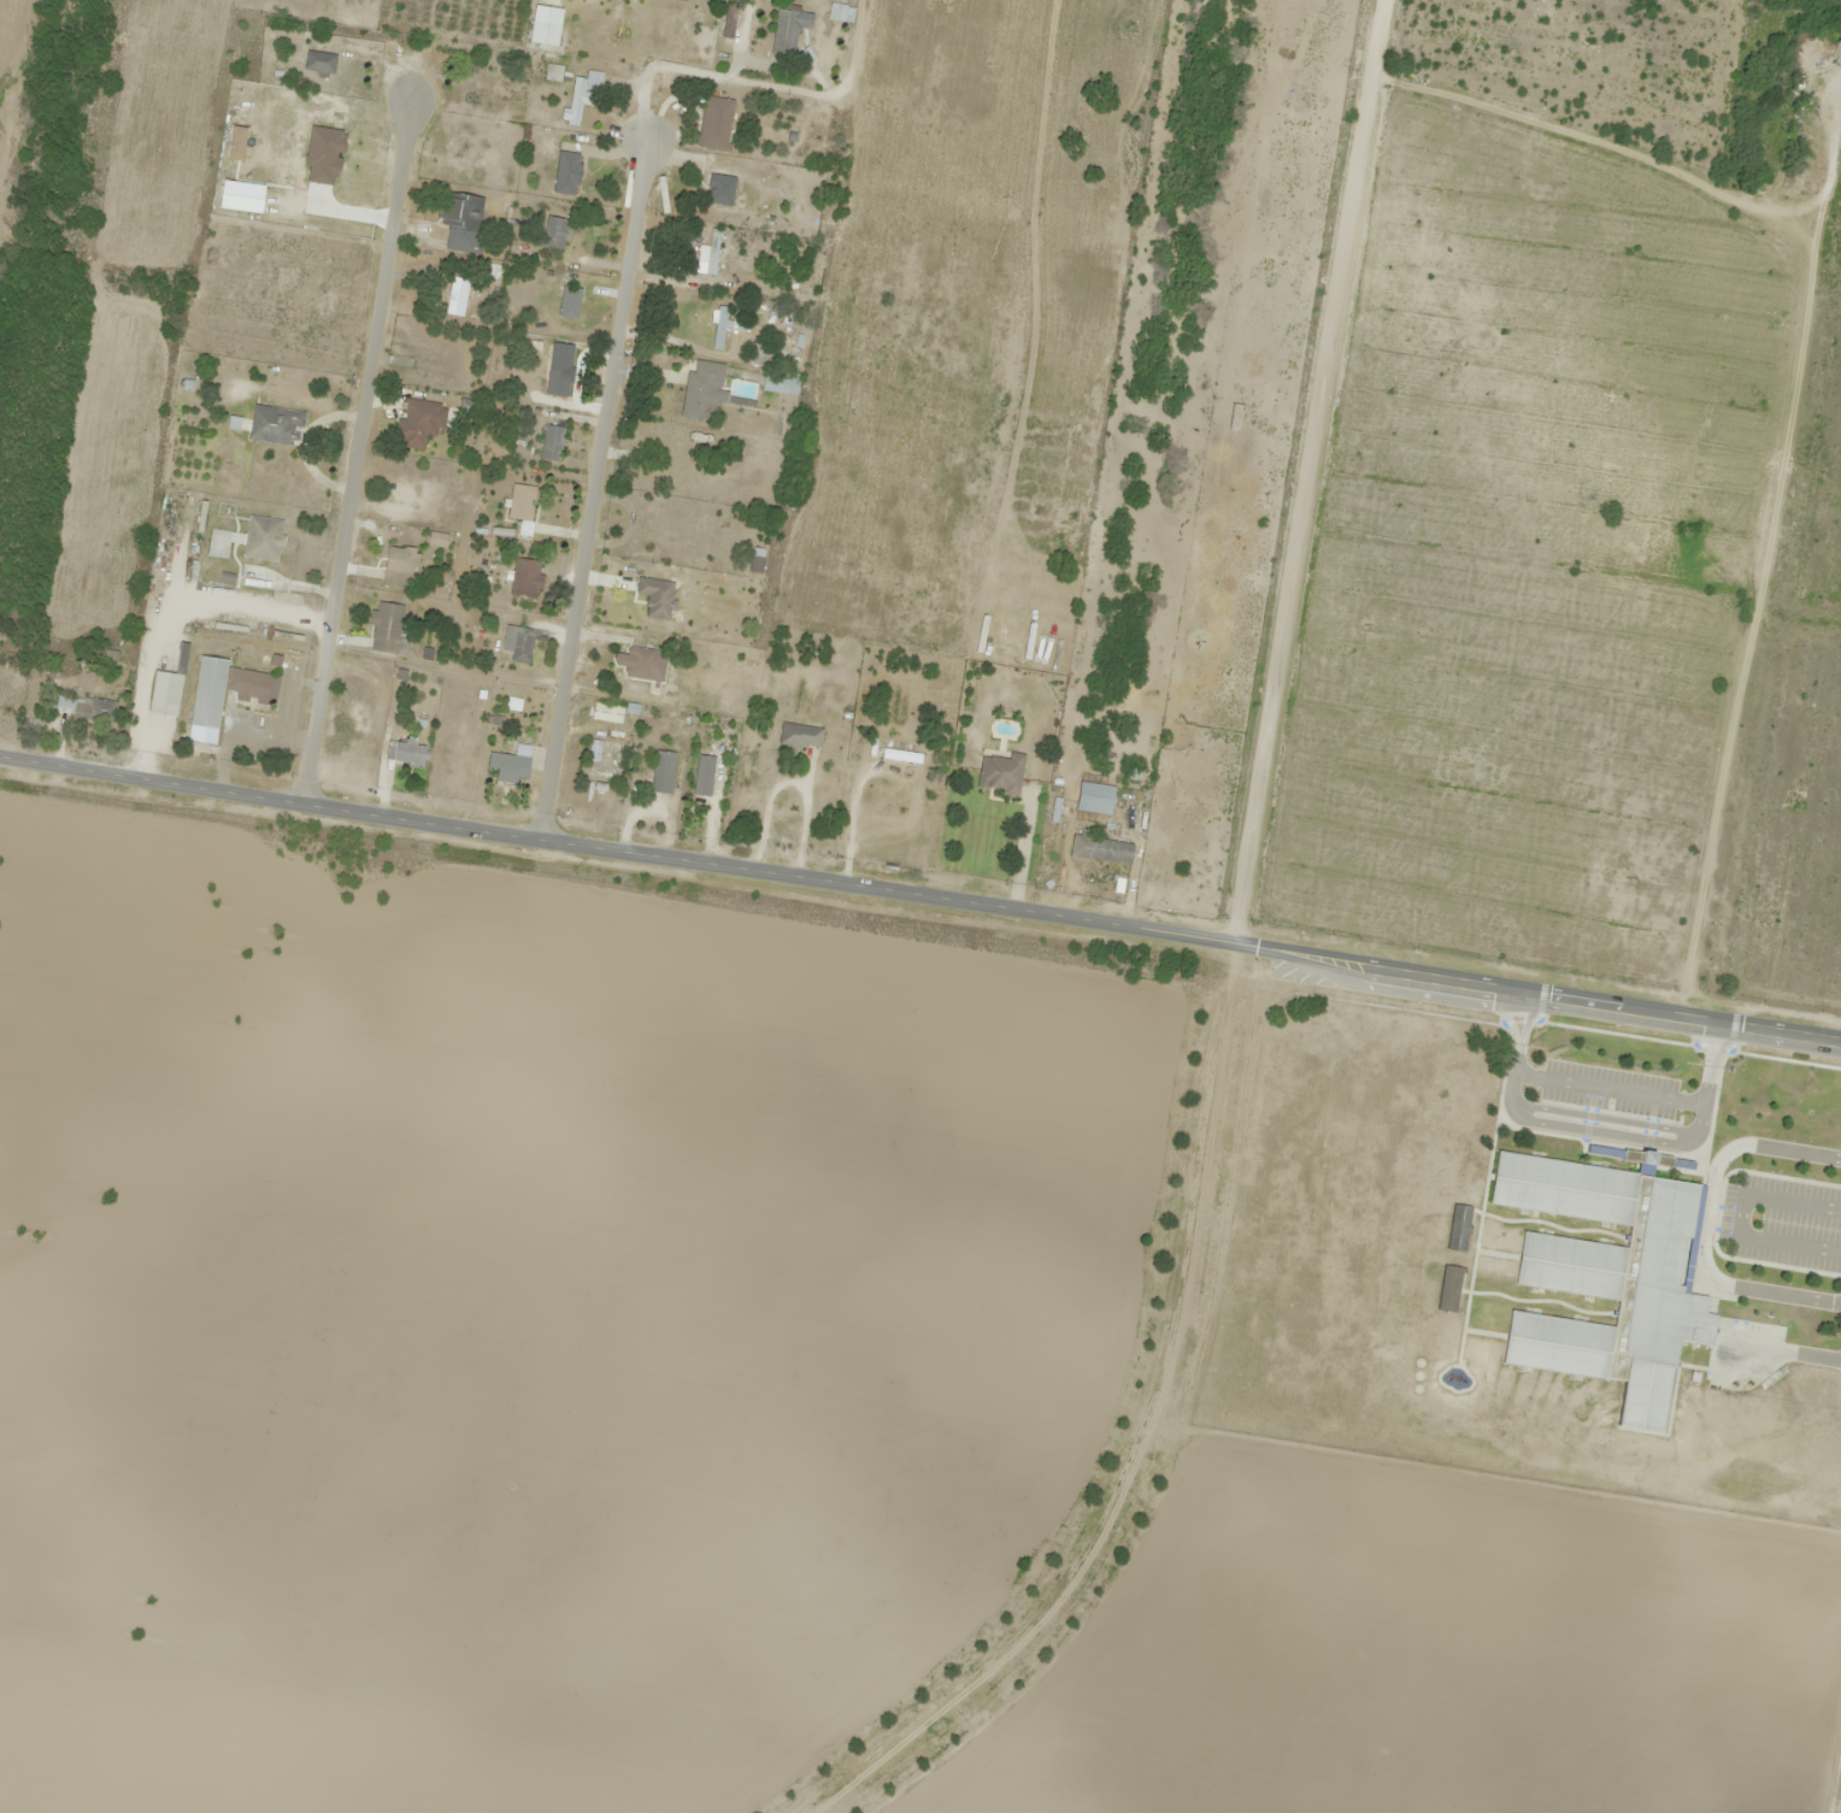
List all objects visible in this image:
building: (627, 0)
building: (841, 12)
building: (729, 19)
building: (546, 24)
building: (788, 30)
building: (319, 63)
building: (553, 72)
building: (575, 106)
building: (716, 123)
road: (1583, 135)
building: (566, 164)
building: (305, 166)
building: (720, 189)
building: (459, 212)
building: (553, 232)
building: (455, 246)
building: (712, 251)
building: (458, 296)
building: (719, 326)
building: (558, 382)
building: (781, 382)
building: (701, 390)
building: (419, 422)
building: (276, 424)
building: (552, 442)
road: (302, 473)
building: (522, 507)
road: (1314, 508)
road: (541, 510)
building: (647, 523)
building: (263, 537)
building: (400, 565)
building: (525, 577)
building: (657, 596)
road: (1775, 624)
building: (386, 626)
building: (520, 642)
building: (640, 663)
building: (253, 685)
building: (169, 687)
building: (208, 693)
building: (88, 708)
building: (607, 712)
building: (800, 735)
building: (901, 755)
building: (601, 758)
building: (507, 766)
building: (663, 771)
building: (1000, 773)
building: (704, 775)
building: (1095, 797)
building: (1101, 849)
road: (920, 899)
building: (1607, 1281)

